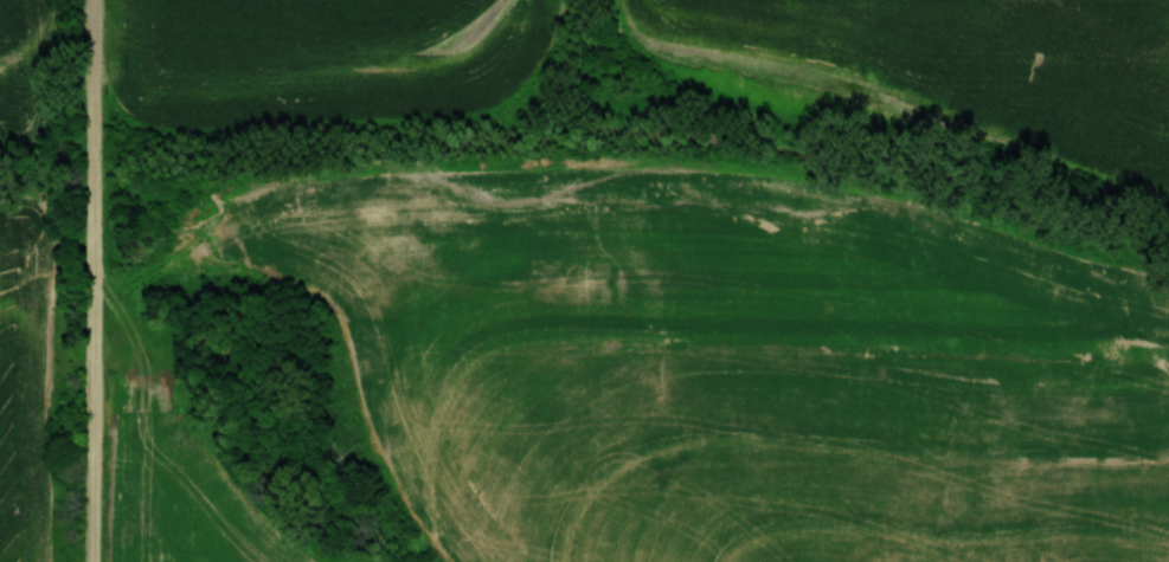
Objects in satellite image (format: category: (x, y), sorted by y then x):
road: (98, 280)

